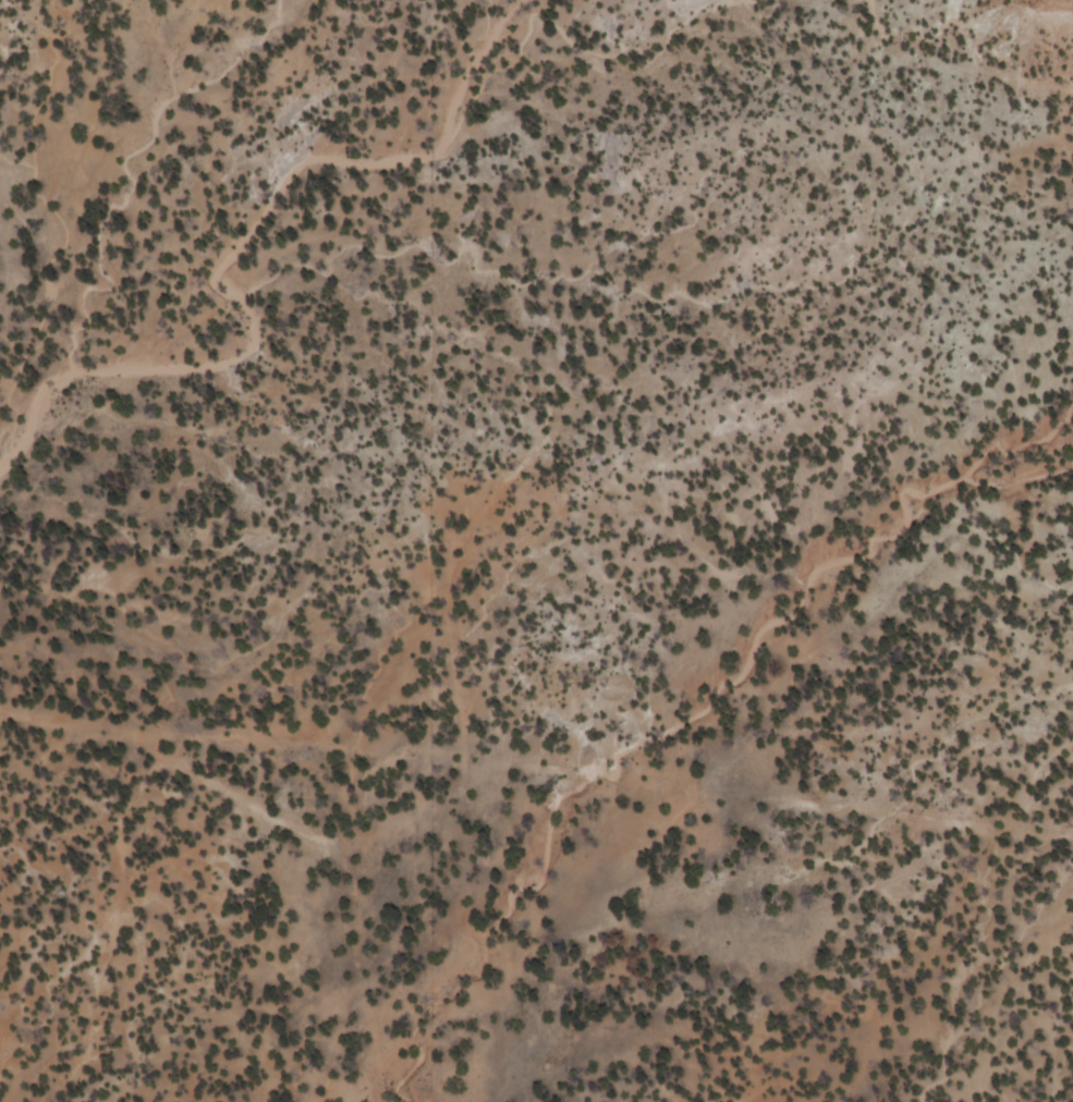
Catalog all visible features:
road: (504, 385)
road: (536, 800)

